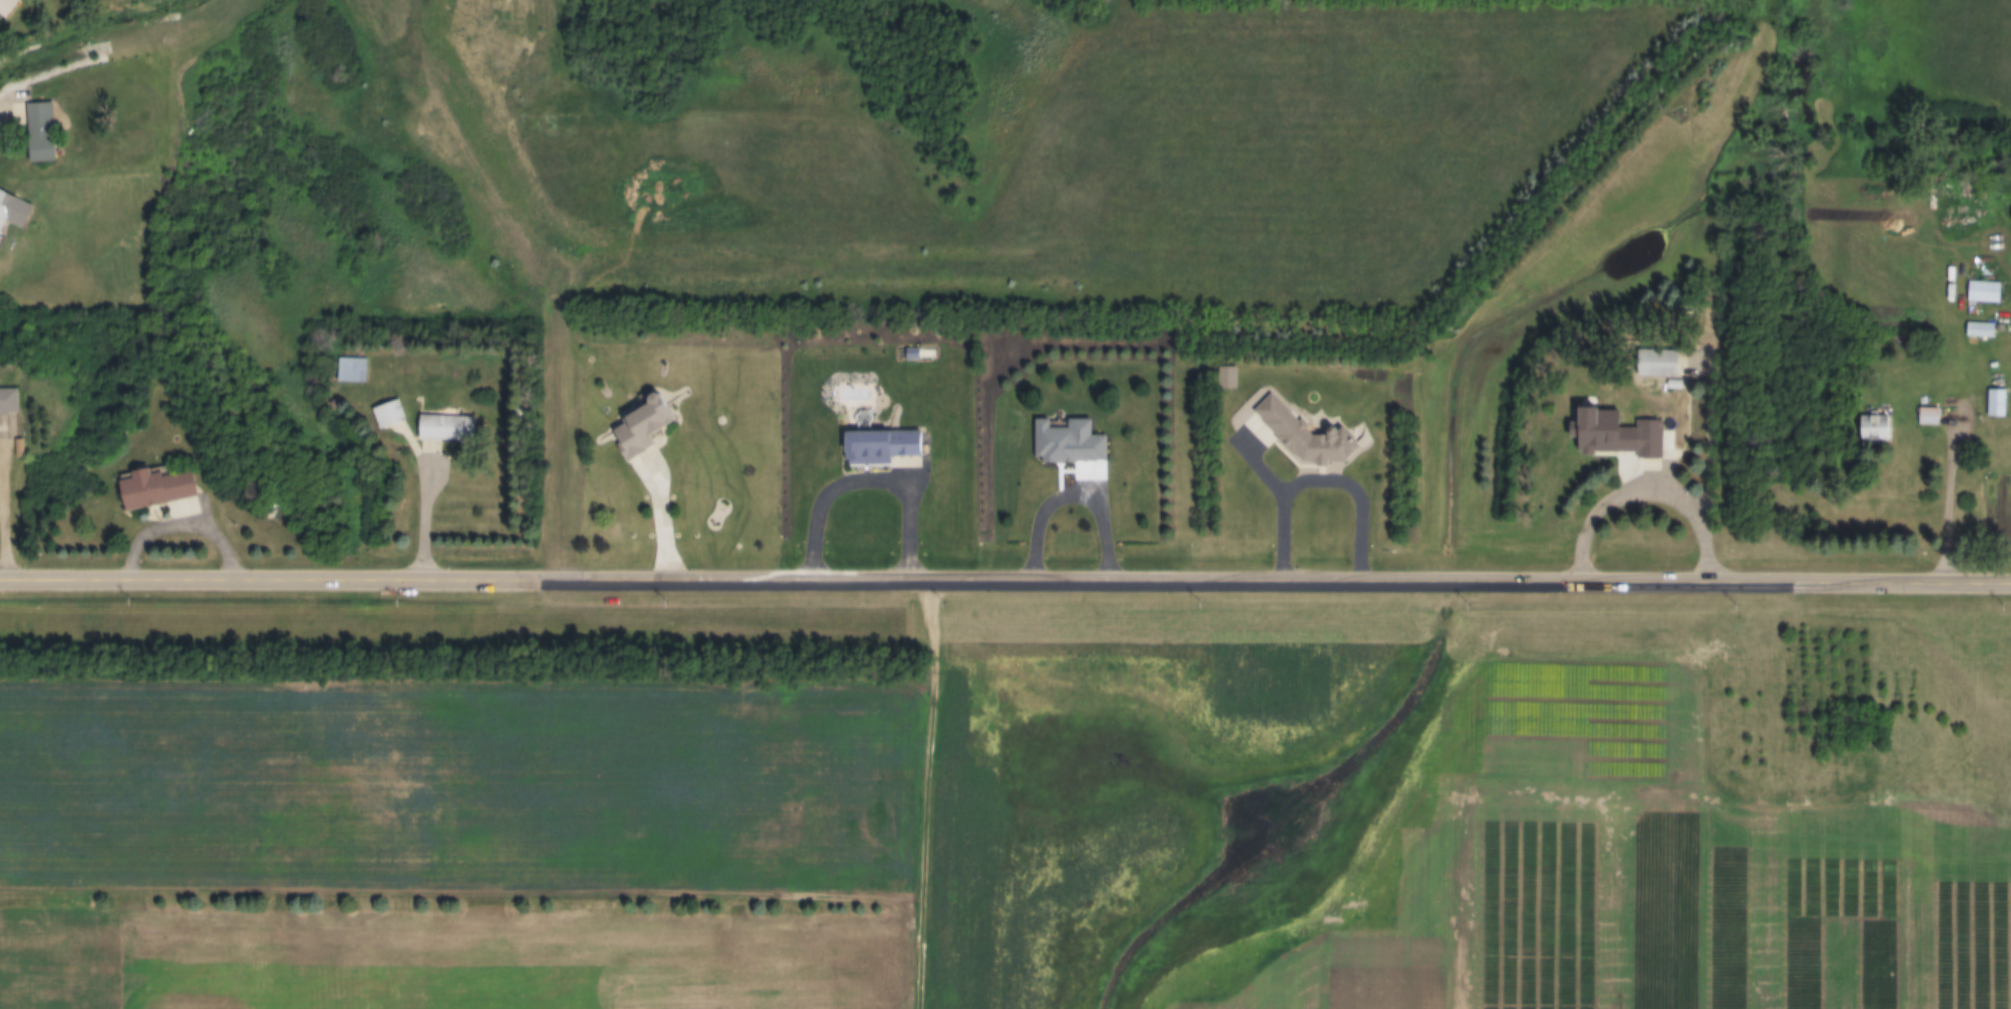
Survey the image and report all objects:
building: (3, 5)
river: (82, 40)
road: (15, 90)
building: (37, 133)
building: (4, 206)
building: (1984, 293)
building: (1981, 331)
building: (339, 359)
building: (1654, 365)
building: (1227, 378)
building: (6, 402)
building: (1996, 404)
building: (387, 415)
building: (1927, 418)
road: (1234, 419)
building: (640, 425)
building: (444, 429)
building: (1872, 430)
building: (1657, 434)
building: (1300, 437)
building: (1067, 443)
building: (877, 448)
road: (871, 470)
road: (1326, 470)
road: (1638, 481)
road: (15, 485)
road: (1078, 486)
road: (1955, 487)
building: (150, 489)
road: (428, 491)
road: (665, 501)
road: (185, 521)
road: (1005, 579)
road: (1689, 916)

